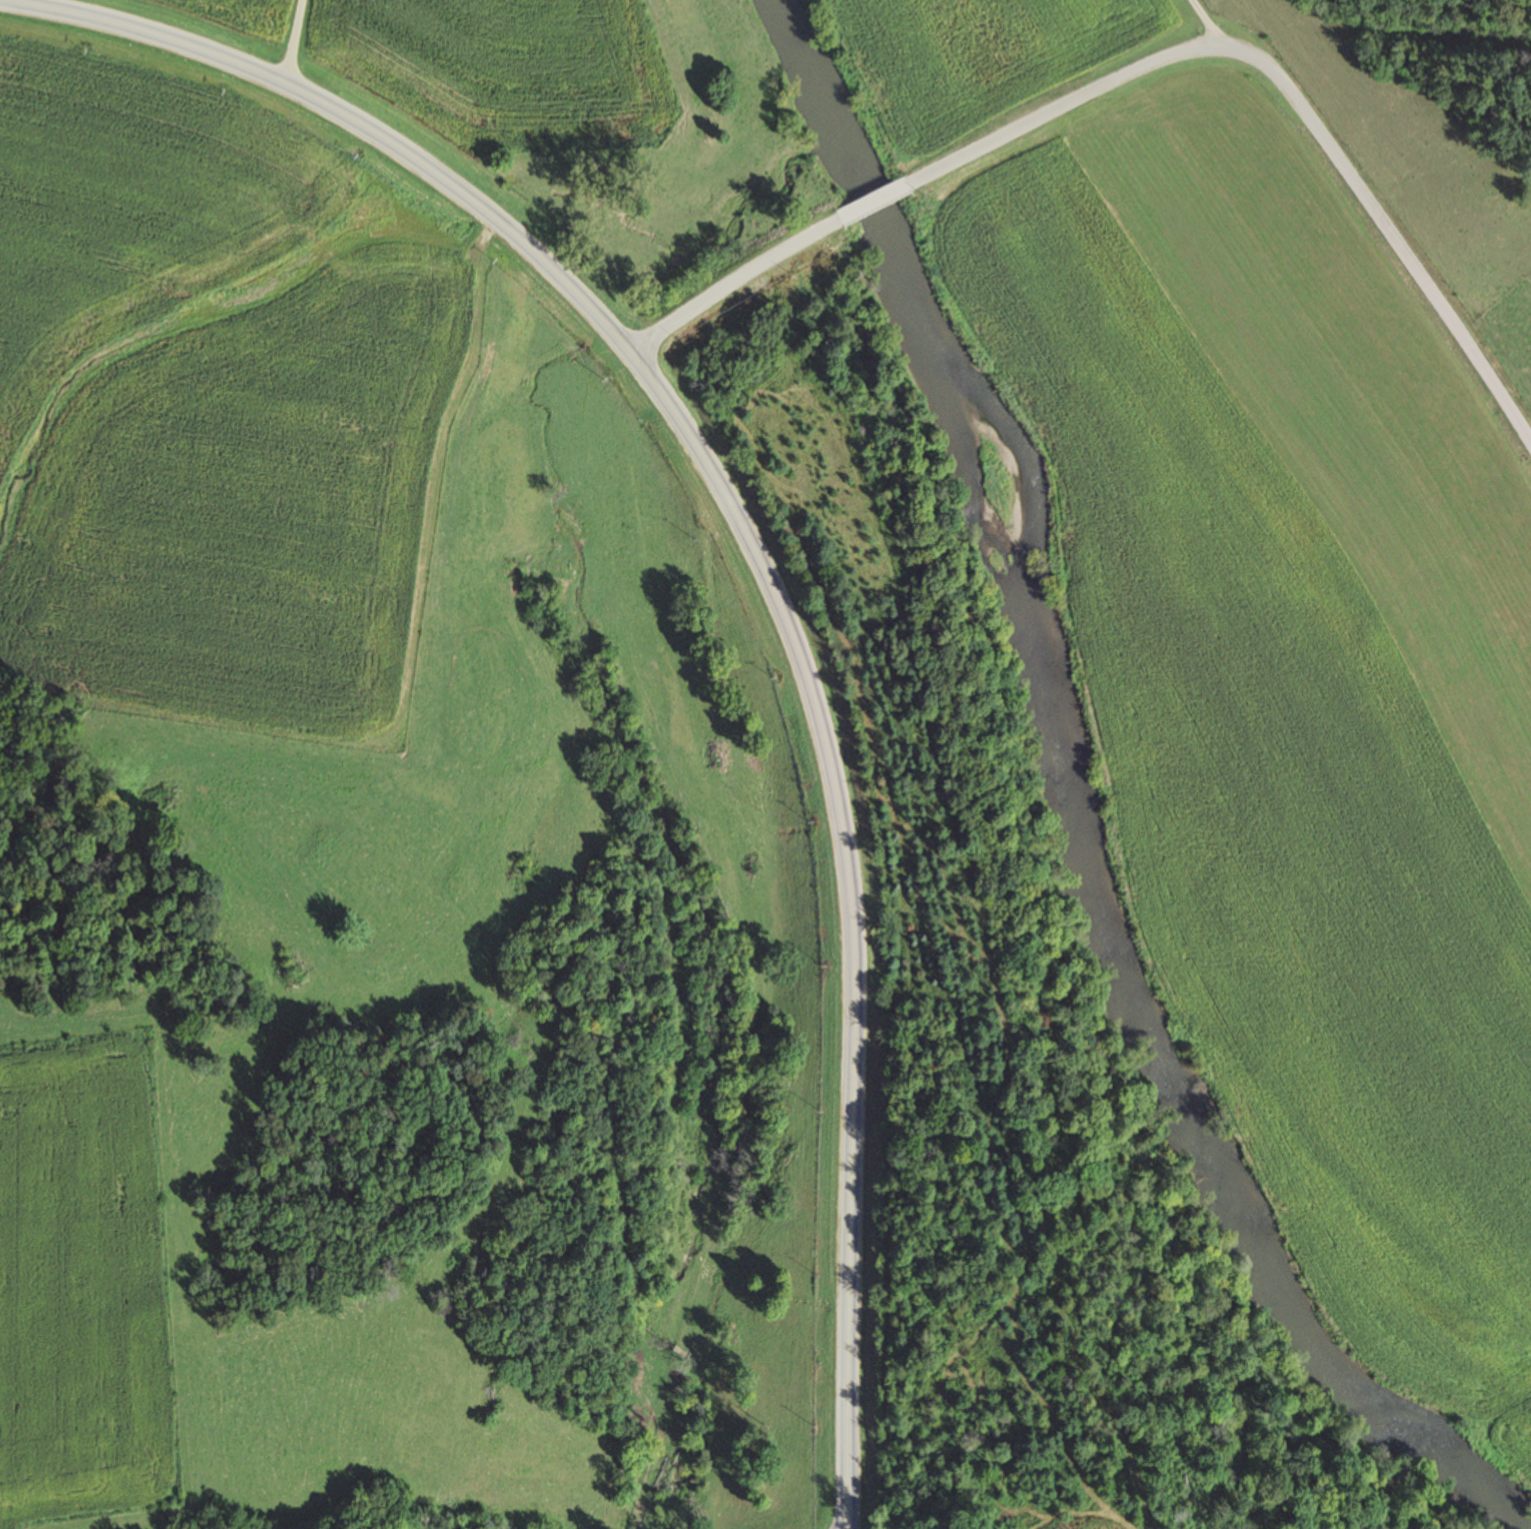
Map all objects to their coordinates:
road: (1199, 20)
road: (288, 40)
road: (1286, 93)
road: (349, 117)
road: (868, 202)
road: (729, 290)
river: (1068, 818)
road: (845, 917)

